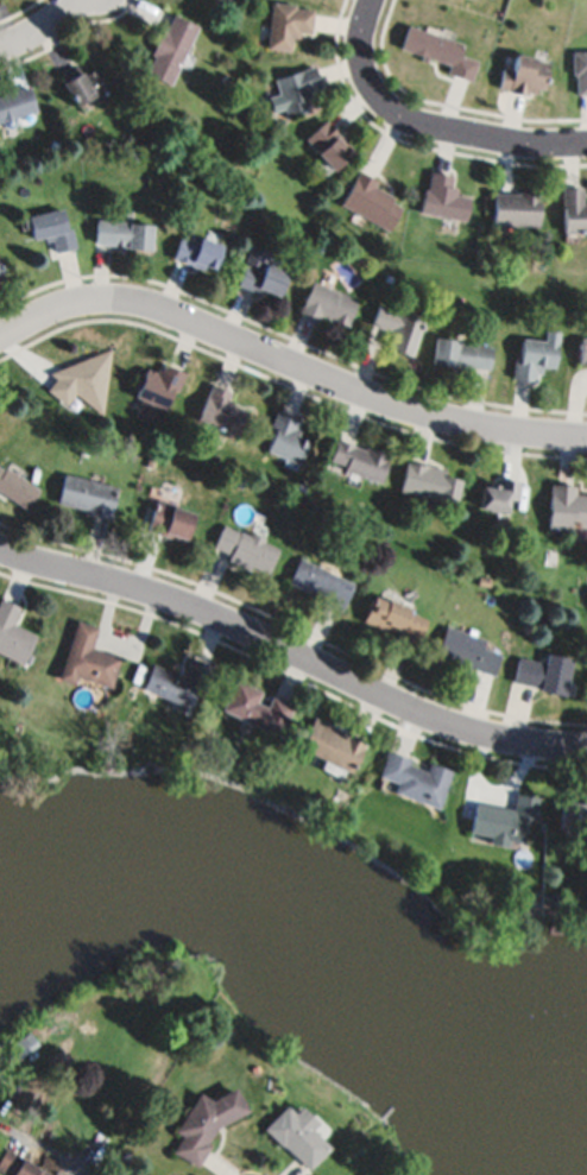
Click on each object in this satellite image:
building: (289, 23)
road: (39, 29)
building: (170, 48)
building: (440, 50)
building: (580, 70)
building: (524, 75)
building: (225, 78)
building: (82, 84)
building: (297, 89)
building: (17, 105)
road: (430, 122)
building: (328, 144)
building: (53, 145)
building: (173, 150)
building: (442, 196)
building: (368, 200)
building: (515, 208)
building: (573, 210)
building: (51, 229)
building: (122, 233)
building: (197, 252)
building: (260, 272)
building: (2, 273)
building: (327, 302)
building: (398, 328)
building: (582, 350)
building: (460, 352)
building: (535, 356)
road: (289, 361)
building: (83, 380)
building: (158, 384)
building: (220, 410)
building: (285, 438)
building: (360, 460)
building: (151, 461)
building: (428, 481)
building: (17, 487)
building: (497, 494)
building: (87, 495)
building: (566, 507)
building: (168, 519)
building: (245, 548)
building: (321, 582)
building: (392, 617)
building: (13, 633)
building: (467, 651)
road: (292, 655)
building: (87, 659)
building: (543, 672)
building: (177, 682)
building: (253, 707)
building: (330, 743)
building: (414, 778)
building: (573, 816)
building: (503, 817)
river: (313, 945)
building: (21, 1044)
building: (206, 1123)
building: (293, 1133)
building: (18, 1164)

